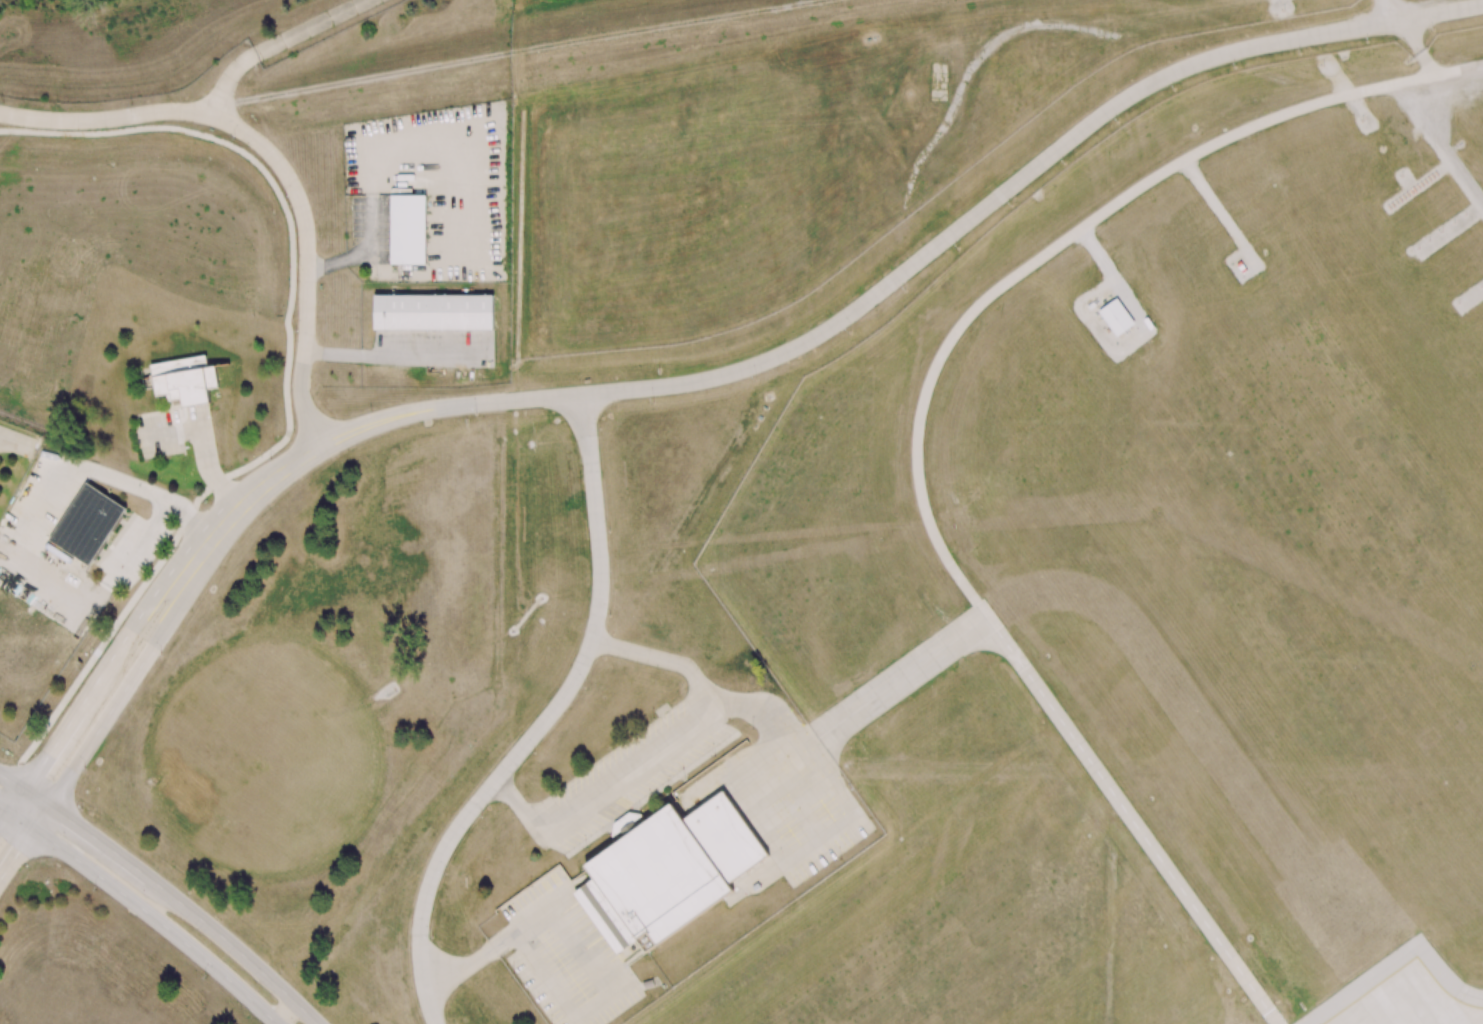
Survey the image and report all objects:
road: (1272, 0)
road: (1387, 11)
road: (276, 43)
road: (1418, 47)
road: (971, 60)
road: (1346, 91)
road: (105, 120)
road: (1436, 146)
road: (1218, 211)
building: (408, 229)
road: (1095, 253)
road: (307, 261)
road: (917, 261)
building: (1240, 266)
building: (432, 311)
building: (1116, 317)
road: (387, 355)
road: (286, 375)
building: (184, 379)
flagpole: (182, 415)
railway: (38, 426)
road: (918, 428)
road: (170, 433)
road: (205, 456)
road: (35, 514)
building: (87, 523)
road: (193, 523)
road: (140, 541)
road: (189, 546)
airport: (1018, 596)
road: (173, 616)
road: (663, 660)
road: (895, 682)
road: (773, 713)
road: (545, 722)
road: (59, 740)
road: (744, 765)
parking lot: (626, 776)
road: (10, 778)
road: (12, 784)
road: (794, 800)
road: (36, 801)
parking lot: (793, 802)
road: (17, 804)
street lamp: (81, 810)
road: (5, 811)
road: (40, 820)
road: (5, 822)
road: (21, 823)
road: (101, 846)
road: (16, 856)
building: (667, 871)
street lamp: (94, 890)
street lamp: (188, 893)
road: (159, 922)
road: (577, 946)
road: (238, 949)
parking lot: (563, 954)
street lamp: (281, 971)
street lamp: (204, 978)
road: (285, 1012)

